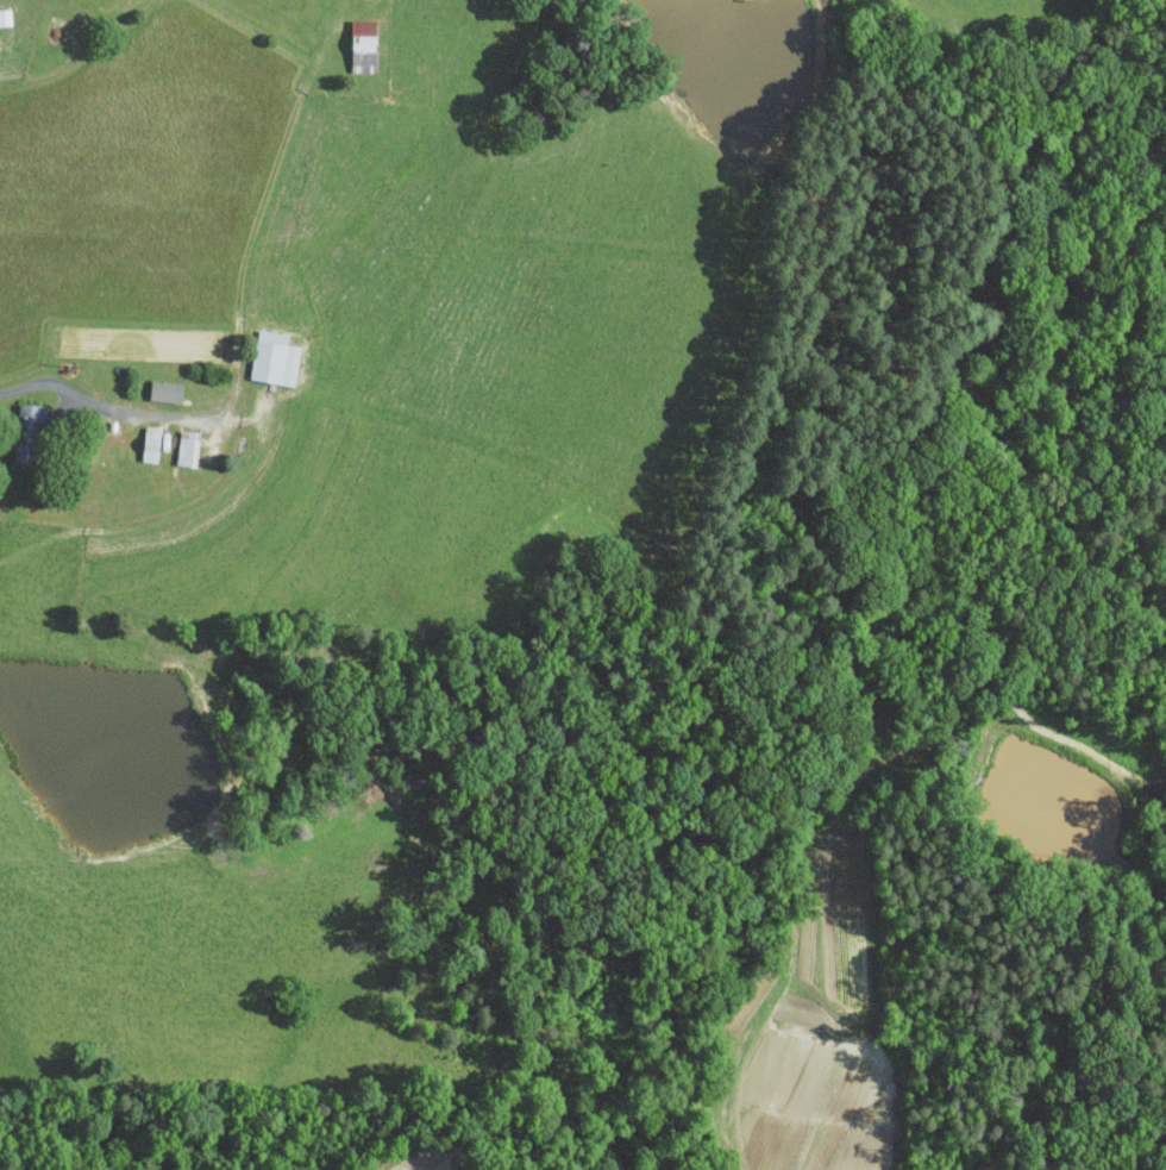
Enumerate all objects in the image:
building: (363, 44)
building: (275, 357)
building: (165, 390)
road: (99, 402)
building: (29, 433)
building: (151, 443)
building: (188, 446)
road: (63, 930)

